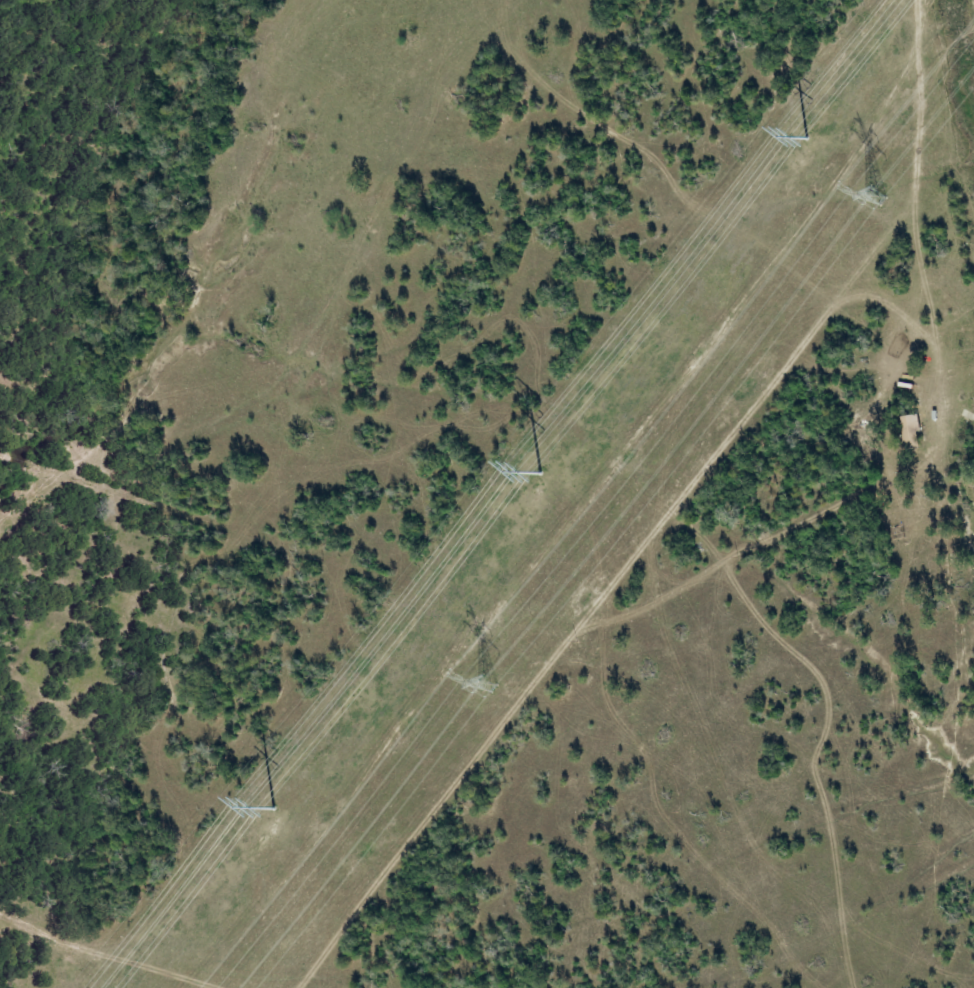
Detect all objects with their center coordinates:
power tower: (875, 194)
building: (913, 431)
power tower: (485, 684)

